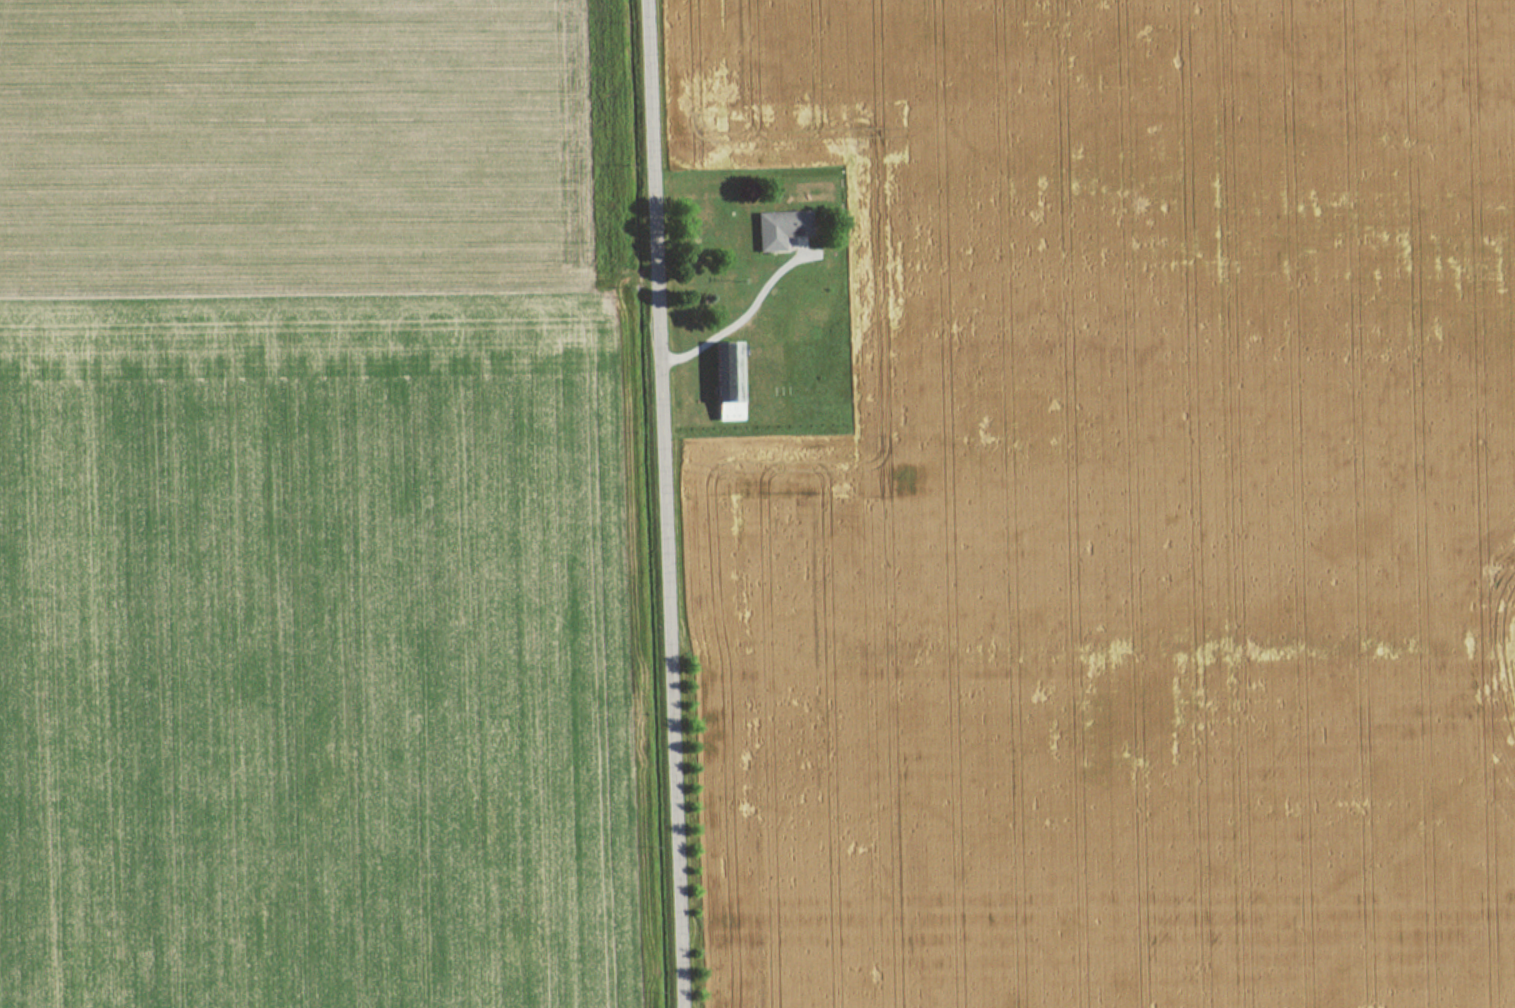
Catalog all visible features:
crop: (291, 143)
building: (777, 228)
building: (725, 411)
road: (668, 504)
crop: (1121, 511)
crop: (314, 649)

